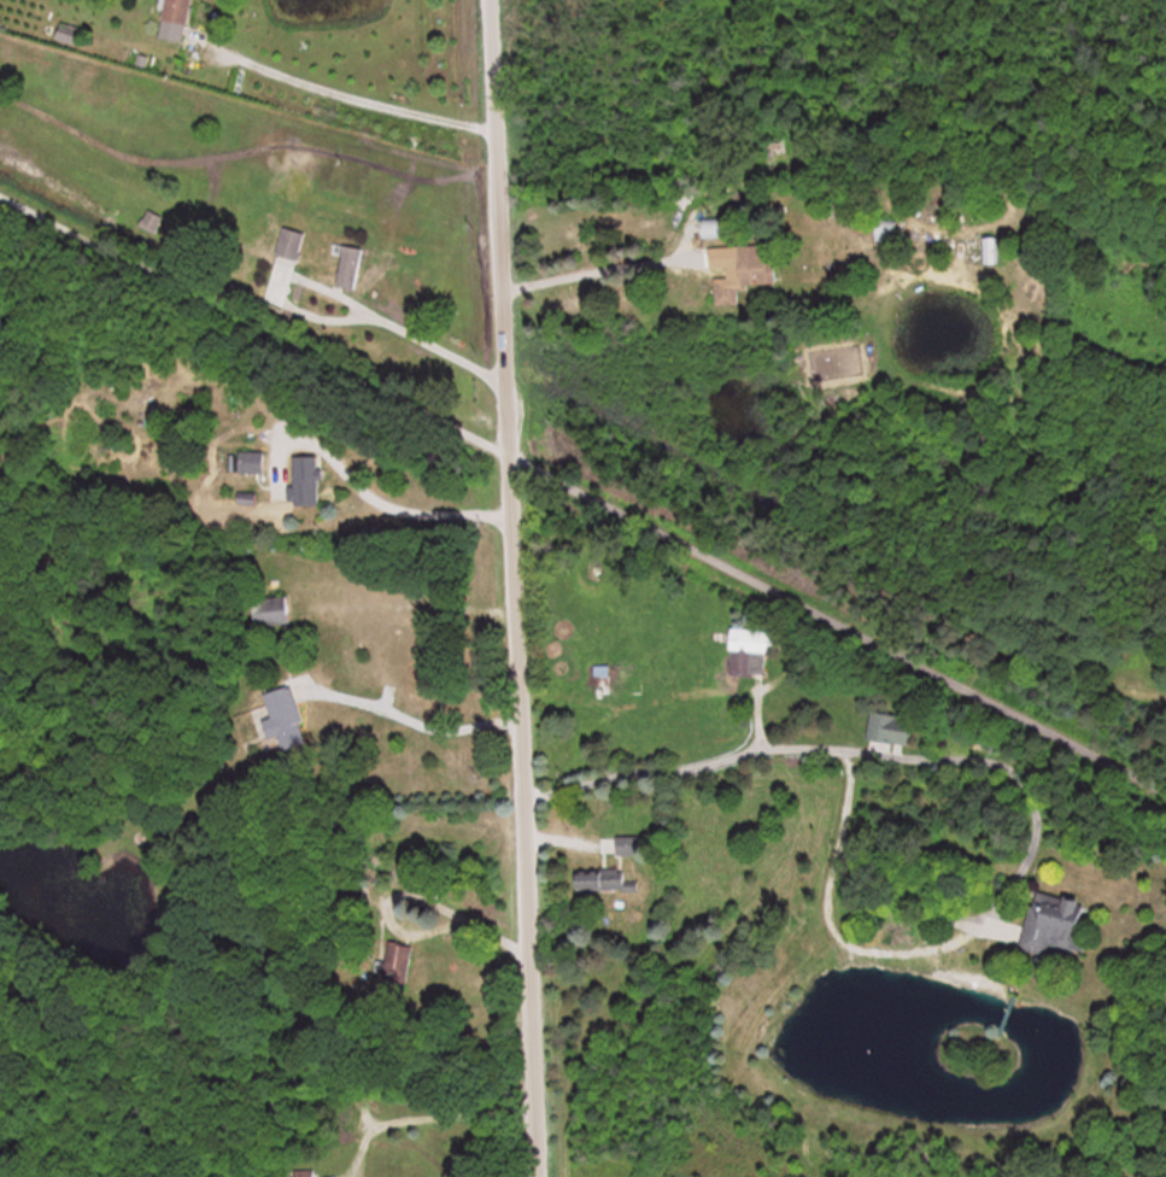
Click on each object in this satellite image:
building: (175, 19)
road: (353, 98)
building: (713, 227)
building: (886, 229)
building: (990, 248)
building: (288, 250)
building: (347, 265)
road: (600, 269)
building: (745, 271)
road: (254, 324)
road: (412, 333)
building: (251, 462)
building: (306, 491)
road: (393, 506)
road: (514, 587)
road: (409, 605)
building: (271, 610)
road: (837, 622)
building: (750, 650)
building: (611, 683)
building: (283, 719)
road: (410, 719)
building: (891, 728)
road: (1020, 780)
building: (393, 872)
building: (597, 879)
building: (1054, 923)
building: (394, 966)
building: (303, 1172)

